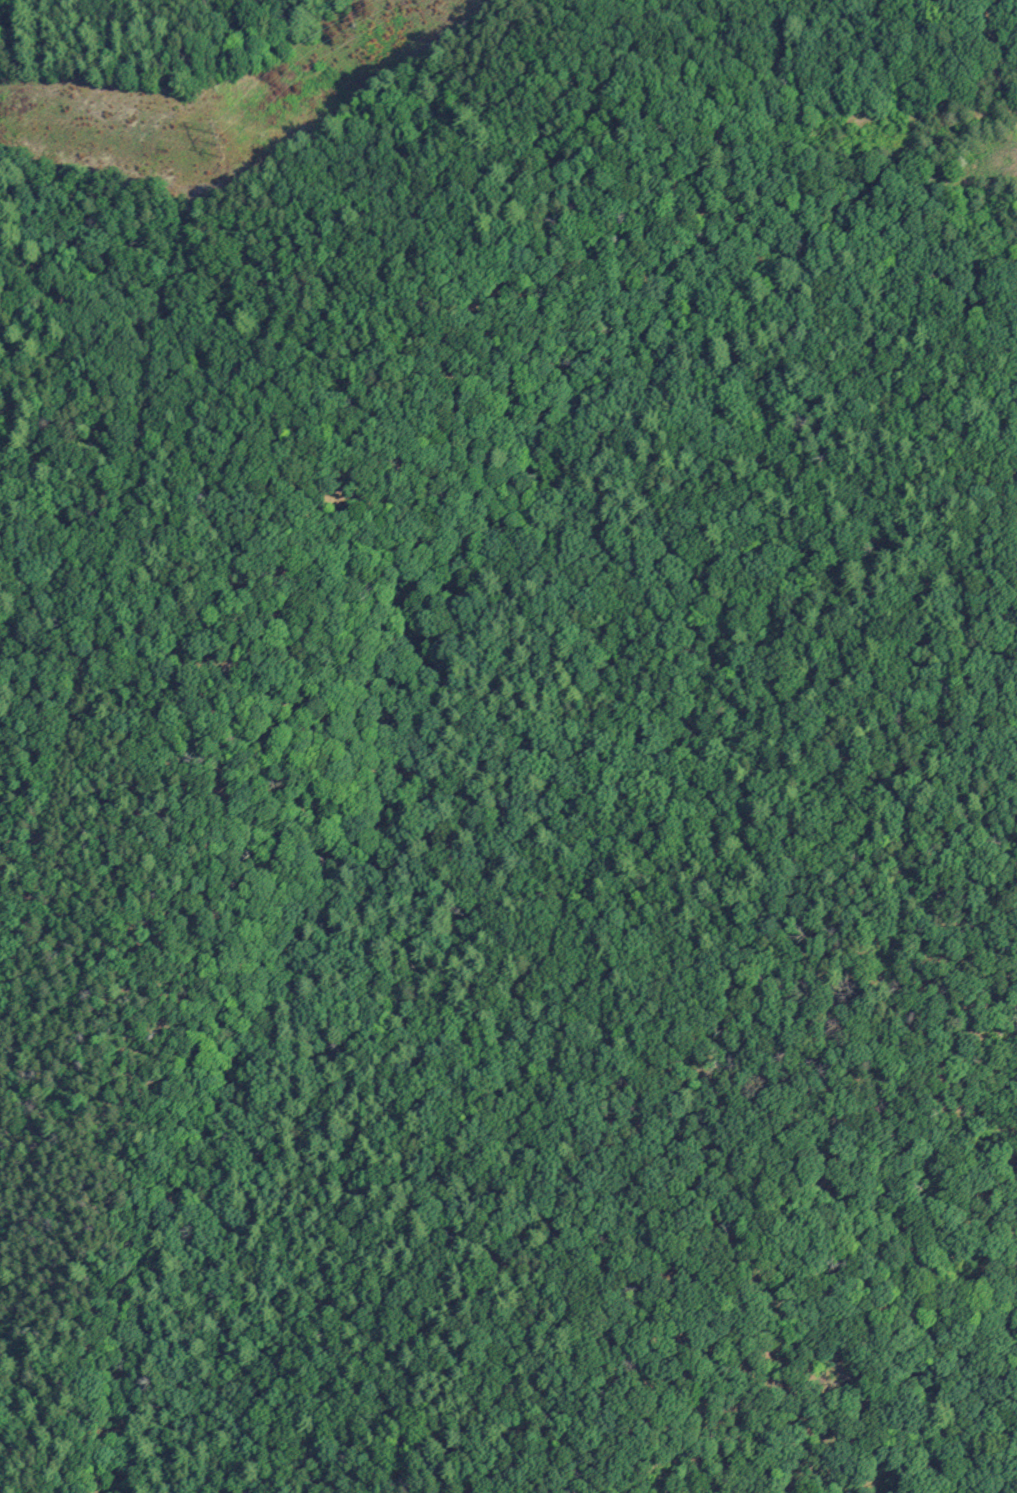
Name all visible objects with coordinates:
power tower: (220, 146)

